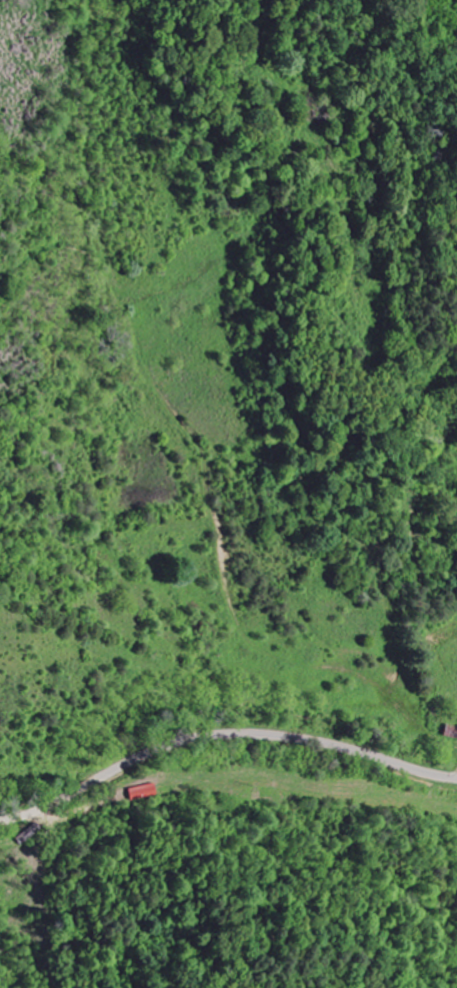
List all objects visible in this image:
road: (222, 734)

